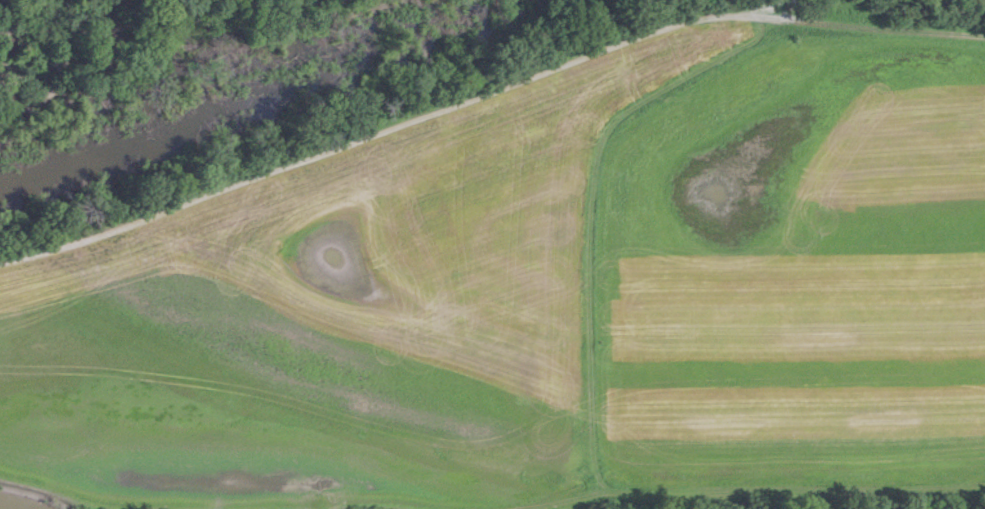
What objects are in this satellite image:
road: (754, 5)
road: (418, 117)

